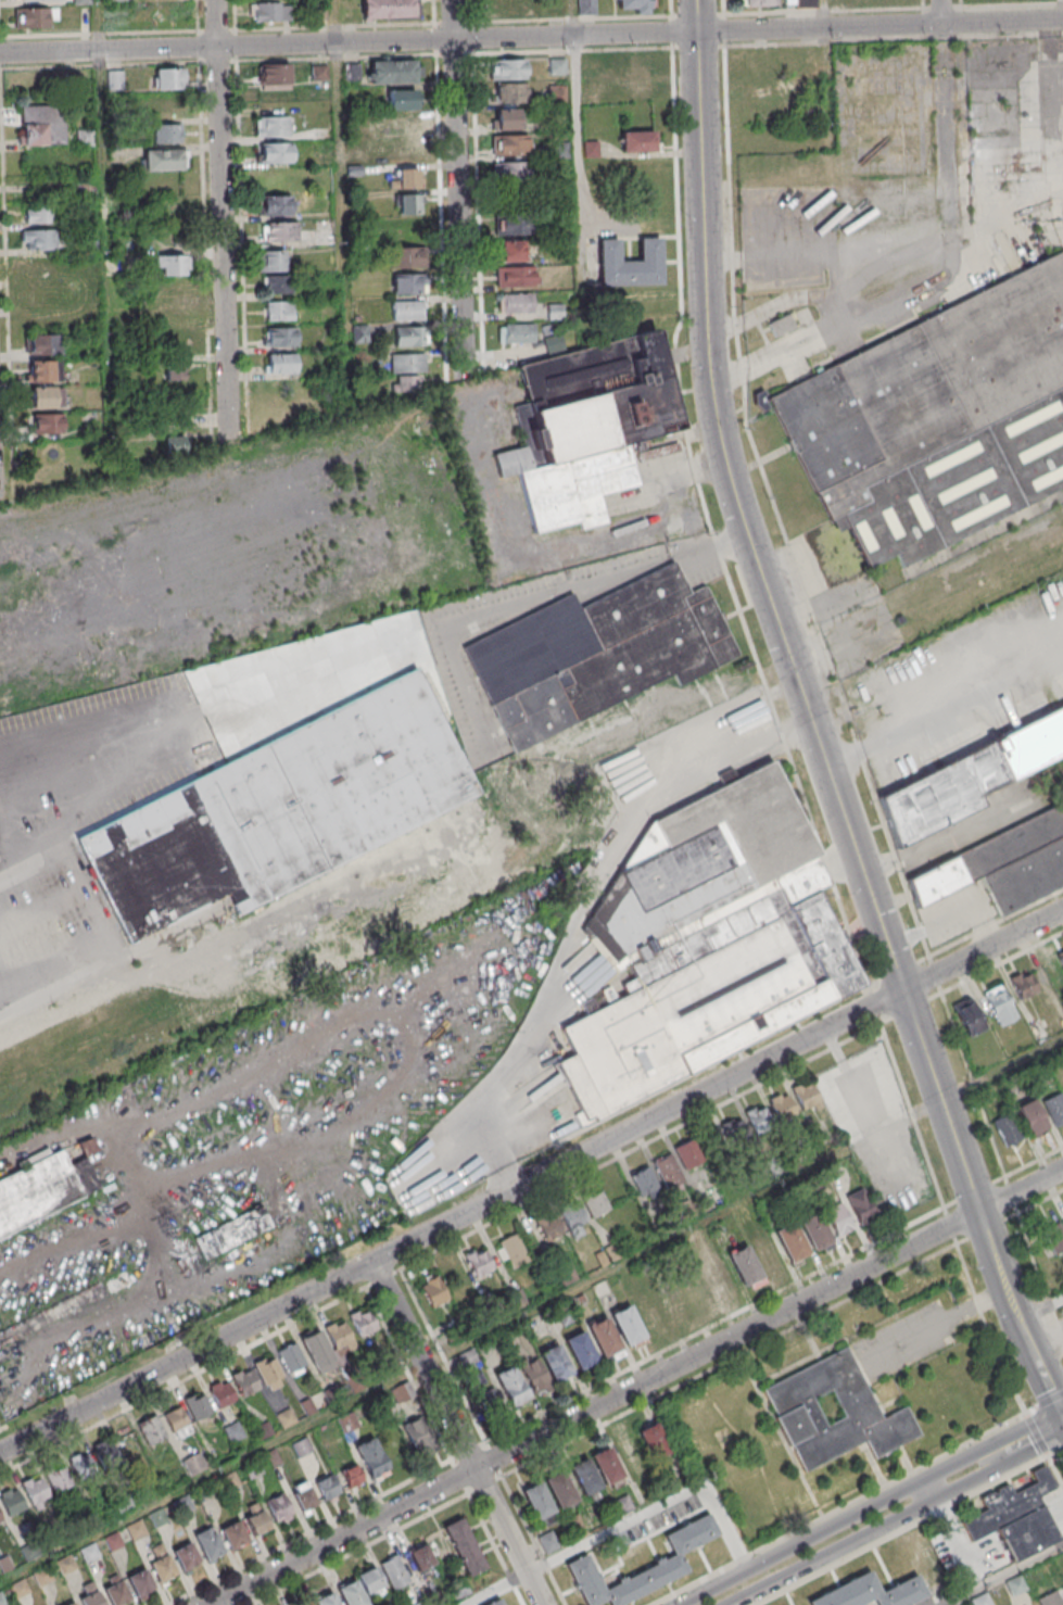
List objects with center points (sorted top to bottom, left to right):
building: (36, 0)
building: (117, 0)
building: (759, 2)
building: (800, 3)
building: (634, 5)
building: (510, 7)
building: (586, 8)
building: (388, 9)
road: (1061, 10)
building: (270, 11)
building: (34, 17)
road: (531, 37)
building: (760, 60)
building: (508, 68)
building: (394, 71)
road: (828, 72)
building: (274, 76)
building: (168, 77)
building: (643, 77)
building: (114, 79)
building: (762, 87)
building: (510, 93)
building: (402, 99)
building: (161, 105)
building: (507, 119)
building: (407, 122)
road: (944, 122)
building: (274, 123)
building: (42, 125)
building: (167, 132)
building: (85, 137)
building: (638, 141)
building: (512, 146)
building: (591, 149)
building: (403, 151)
building: (276, 152)
building: (164, 159)
road: (581, 170)
building: (509, 172)
road: (461, 186)
road: (344, 201)
building: (408, 204)
building: (277, 205)
building: (39, 213)
road: (227, 219)
building: (514, 225)
road: (106, 229)
building: (281, 231)
building: (38, 239)
building: (511, 250)
building: (407, 256)
building: (273, 261)
building: (631, 263)
building: (169, 264)
building: (38, 265)
building: (517, 276)
building: (409, 283)
building: (276, 285)
building: (85, 291)
building: (40, 295)
building: (517, 303)
building: (407, 309)
building: (279, 311)
building: (781, 325)
building: (517, 333)
building: (409, 336)
building: (280, 337)
building: (42, 343)
building: (407, 362)
building: (281, 363)
building: (42, 370)
building: (175, 370)
building: (405, 383)
building: (42, 397)
building: (936, 421)
building: (47, 422)
building: (587, 425)
building: (174, 446)
building: (596, 653)
road: (833, 678)
railway: (860, 688)
road: (810, 719)
road: (187, 726)
building: (964, 779)
building: (278, 812)
road: (7, 831)
building: (997, 865)
road: (105, 932)
building: (707, 945)
building: (1061, 959)
road: (899, 971)
building: (1023, 984)
building: (999, 1004)
building: (969, 1016)
road: (1001, 1070)
building: (806, 1096)
road: (727, 1100)
building: (783, 1107)
building: (1054, 1108)
building: (1032, 1117)
building: (758, 1119)
road: (492, 1123)
building: (1007, 1129)
building: (733, 1133)
building: (688, 1155)
road: (1027, 1164)
building: (669, 1172)
building: (644, 1183)
road: (531, 1186)
building: (43, 1190)
building: (596, 1204)
building: (861, 1206)
building: (1062, 1217)
building: (839, 1218)
building: (561, 1223)
building: (814, 1230)
building: (231, 1234)
building: (1054, 1237)
building: (792, 1242)
building: (514, 1252)
building: (479, 1263)
building: (745, 1268)
road: (382, 1277)
building: (118, 1282)
building: (433, 1292)
building: (676, 1305)
road: (1039, 1310)
road: (734, 1312)
building: (651, 1314)
road: (947, 1318)
building: (363, 1324)
building: (628, 1326)
building: (340, 1339)
building: (604, 1339)
building: (580, 1352)
building: (305, 1354)
building: (556, 1364)
road: (420, 1369)
building: (269, 1375)
road: (408, 1375)
road: (185, 1378)
building: (521, 1382)
road: (636, 1386)
building: (233, 1390)
road: (1043, 1401)
building: (492, 1402)
building: (198, 1408)
road: (1062, 1410)
traffic signals: (1061, 1411)
building: (797, 1413)
road: (1062, 1413)
building: (177, 1423)
building: (347, 1423)
road: (2, 1428)
building: (151, 1431)
road: (1037, 1432)
building: (416, 1435)
road: (457, 1436)
road: (482, 1437)
building: (653, 1442)
road: (991, 1445)
building: (302, 1448)
road: (466, 1449)
road: (1055, 1451)
building: (631, 1452)
building: (105, 1453)
building: (371, 1458)
building: (194, 1465)
building: (607, 1465)
building: (83, 1467)
road: (998, 1468)
road: (459, 1475)
building: (351, 1476)
building: (585, 1477)
building: (327, 1488)
building: (559, 1490)
road: (928, 1491)
building: (30, 1494)
building: (304, 1496)
building: (537, 1502)
road: (657, 1507)
building: (279, 1509)
building: (159, 1518)
building: (1016, 1518)
building: (256, 1522)
building: (574, 1522)
road: (311, 1529)
building: (136, 1531)
building: (233, 1537)
building: (547, 1542)
road: (801, 1543)
building: (208, 1545)
road: (494, 1545)
building: (464, 1546)
road: (357, 1549)
road: (833, 1553)
building: (187, 1557)
building: (421, 1557)
building: (582, 1559)
building: (161, 1563)
building: (65, 1565)
building: (394, 1572)
road: (1005, 1576)
building: (43, 1577)
building: (140, 1583)
building: (363, 1587)
road: (495, 1589)
building: (18, 1590)
building: (459, 1590)
building: (115, 1591)
building: (872, 1592)
building: (90, 1594)
building: (326, 1600)
building: (1050, 1600)
building: (1, 1601)
building: (496, 1602)
building: (72, 1604)
building: (306, 1604)

